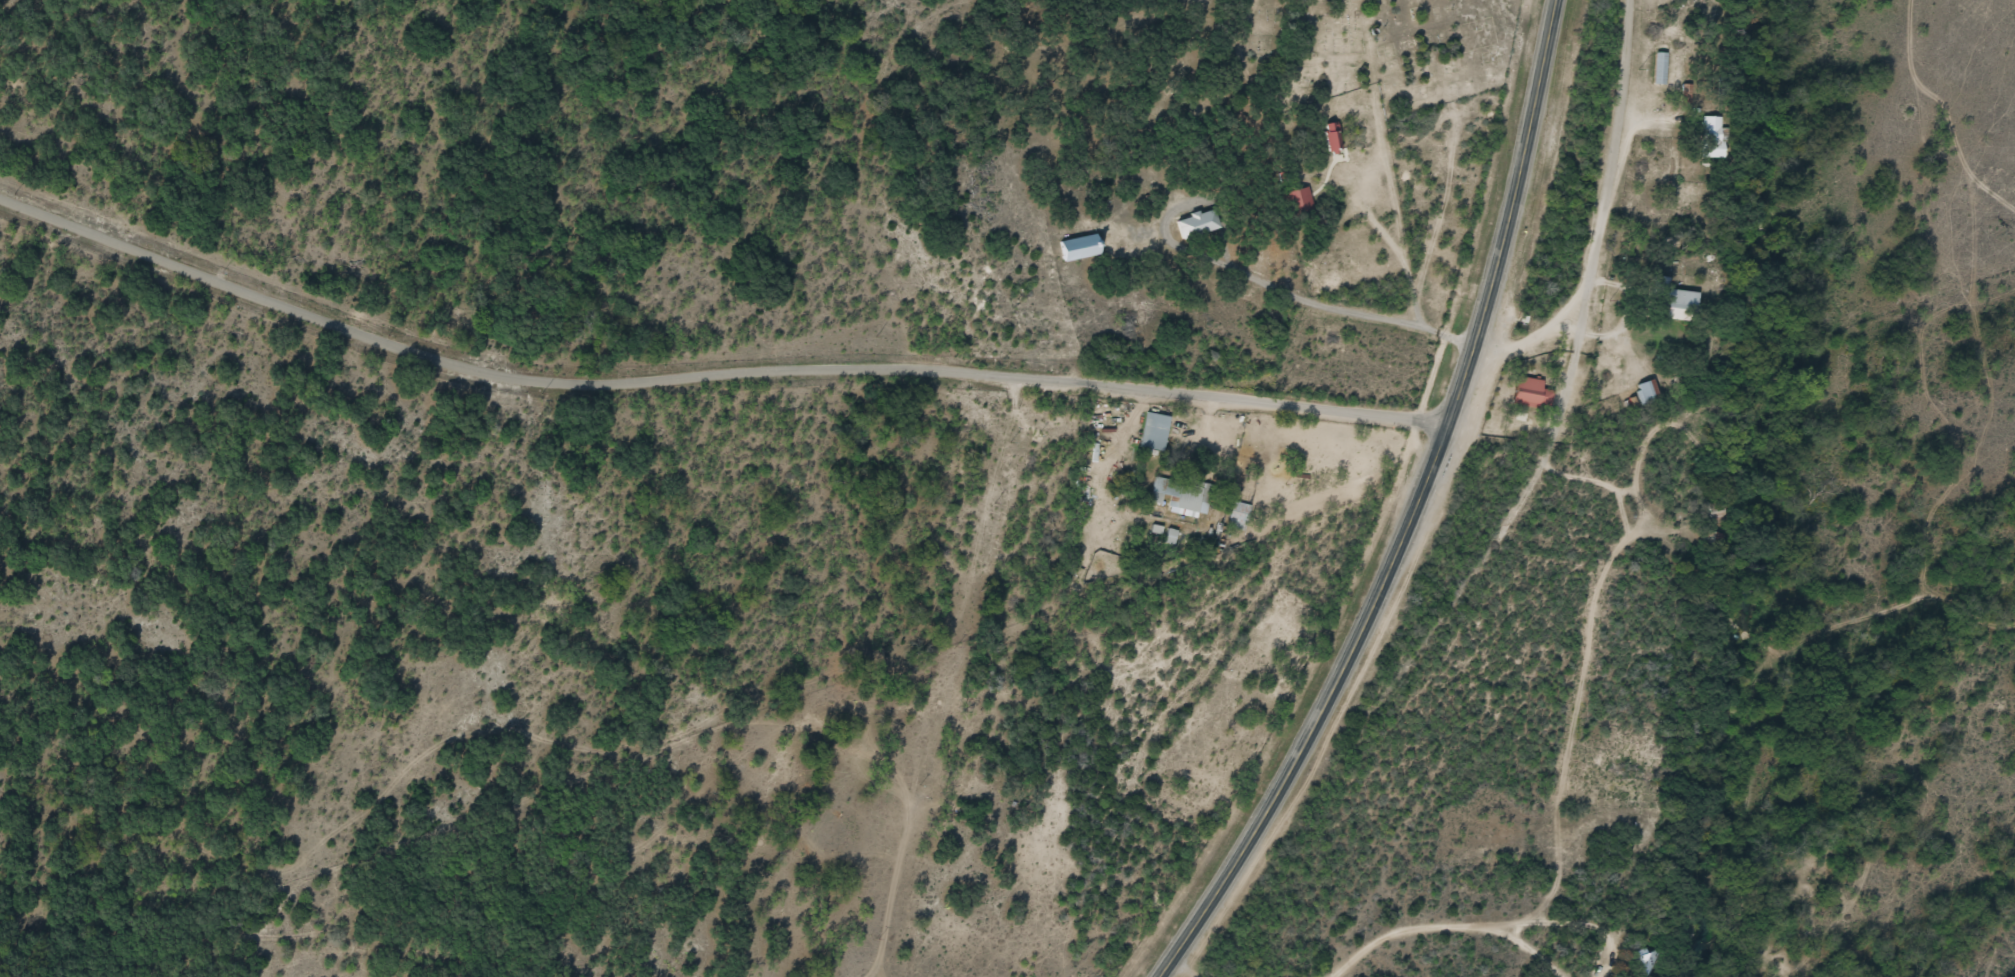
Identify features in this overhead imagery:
park: (1379, 49)
building: (1656, 68)
building: (1707, 136)
building: (1329, 138)
building: (1296, 203)
road: (1606, 216)
building: (1194, 224)
building: (1075, 248)
building: (1669, 300)
road: (710, 376)
building: (1528, 391)
building: (1644, 392)
building: (1151, 431)
road: (704, 448)
building: (1175, 494)
road: (1419, 512)
building: (1236, 515)
building: (1645, 961)

